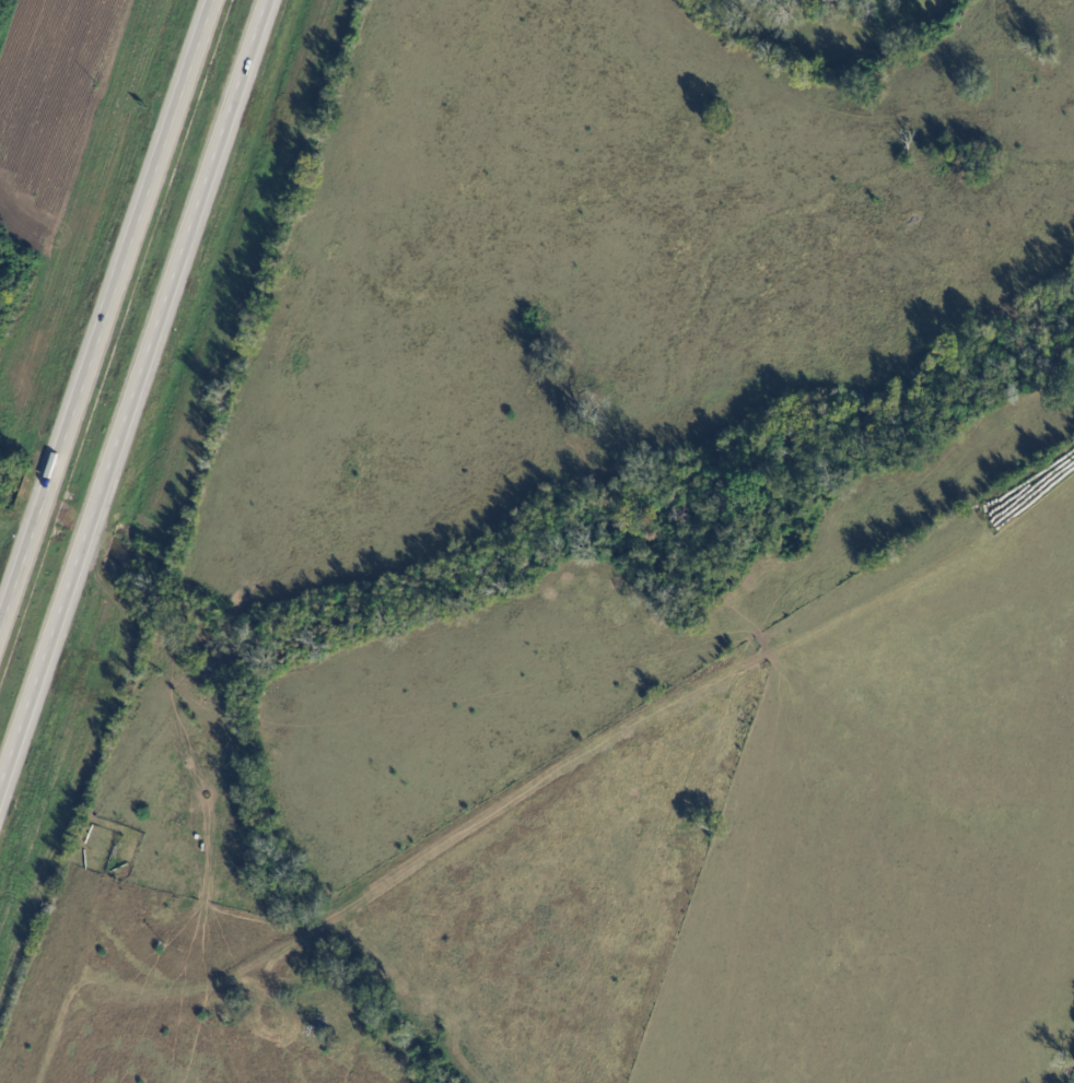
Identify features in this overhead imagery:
road: (106, 314)
road: (133, 393)

